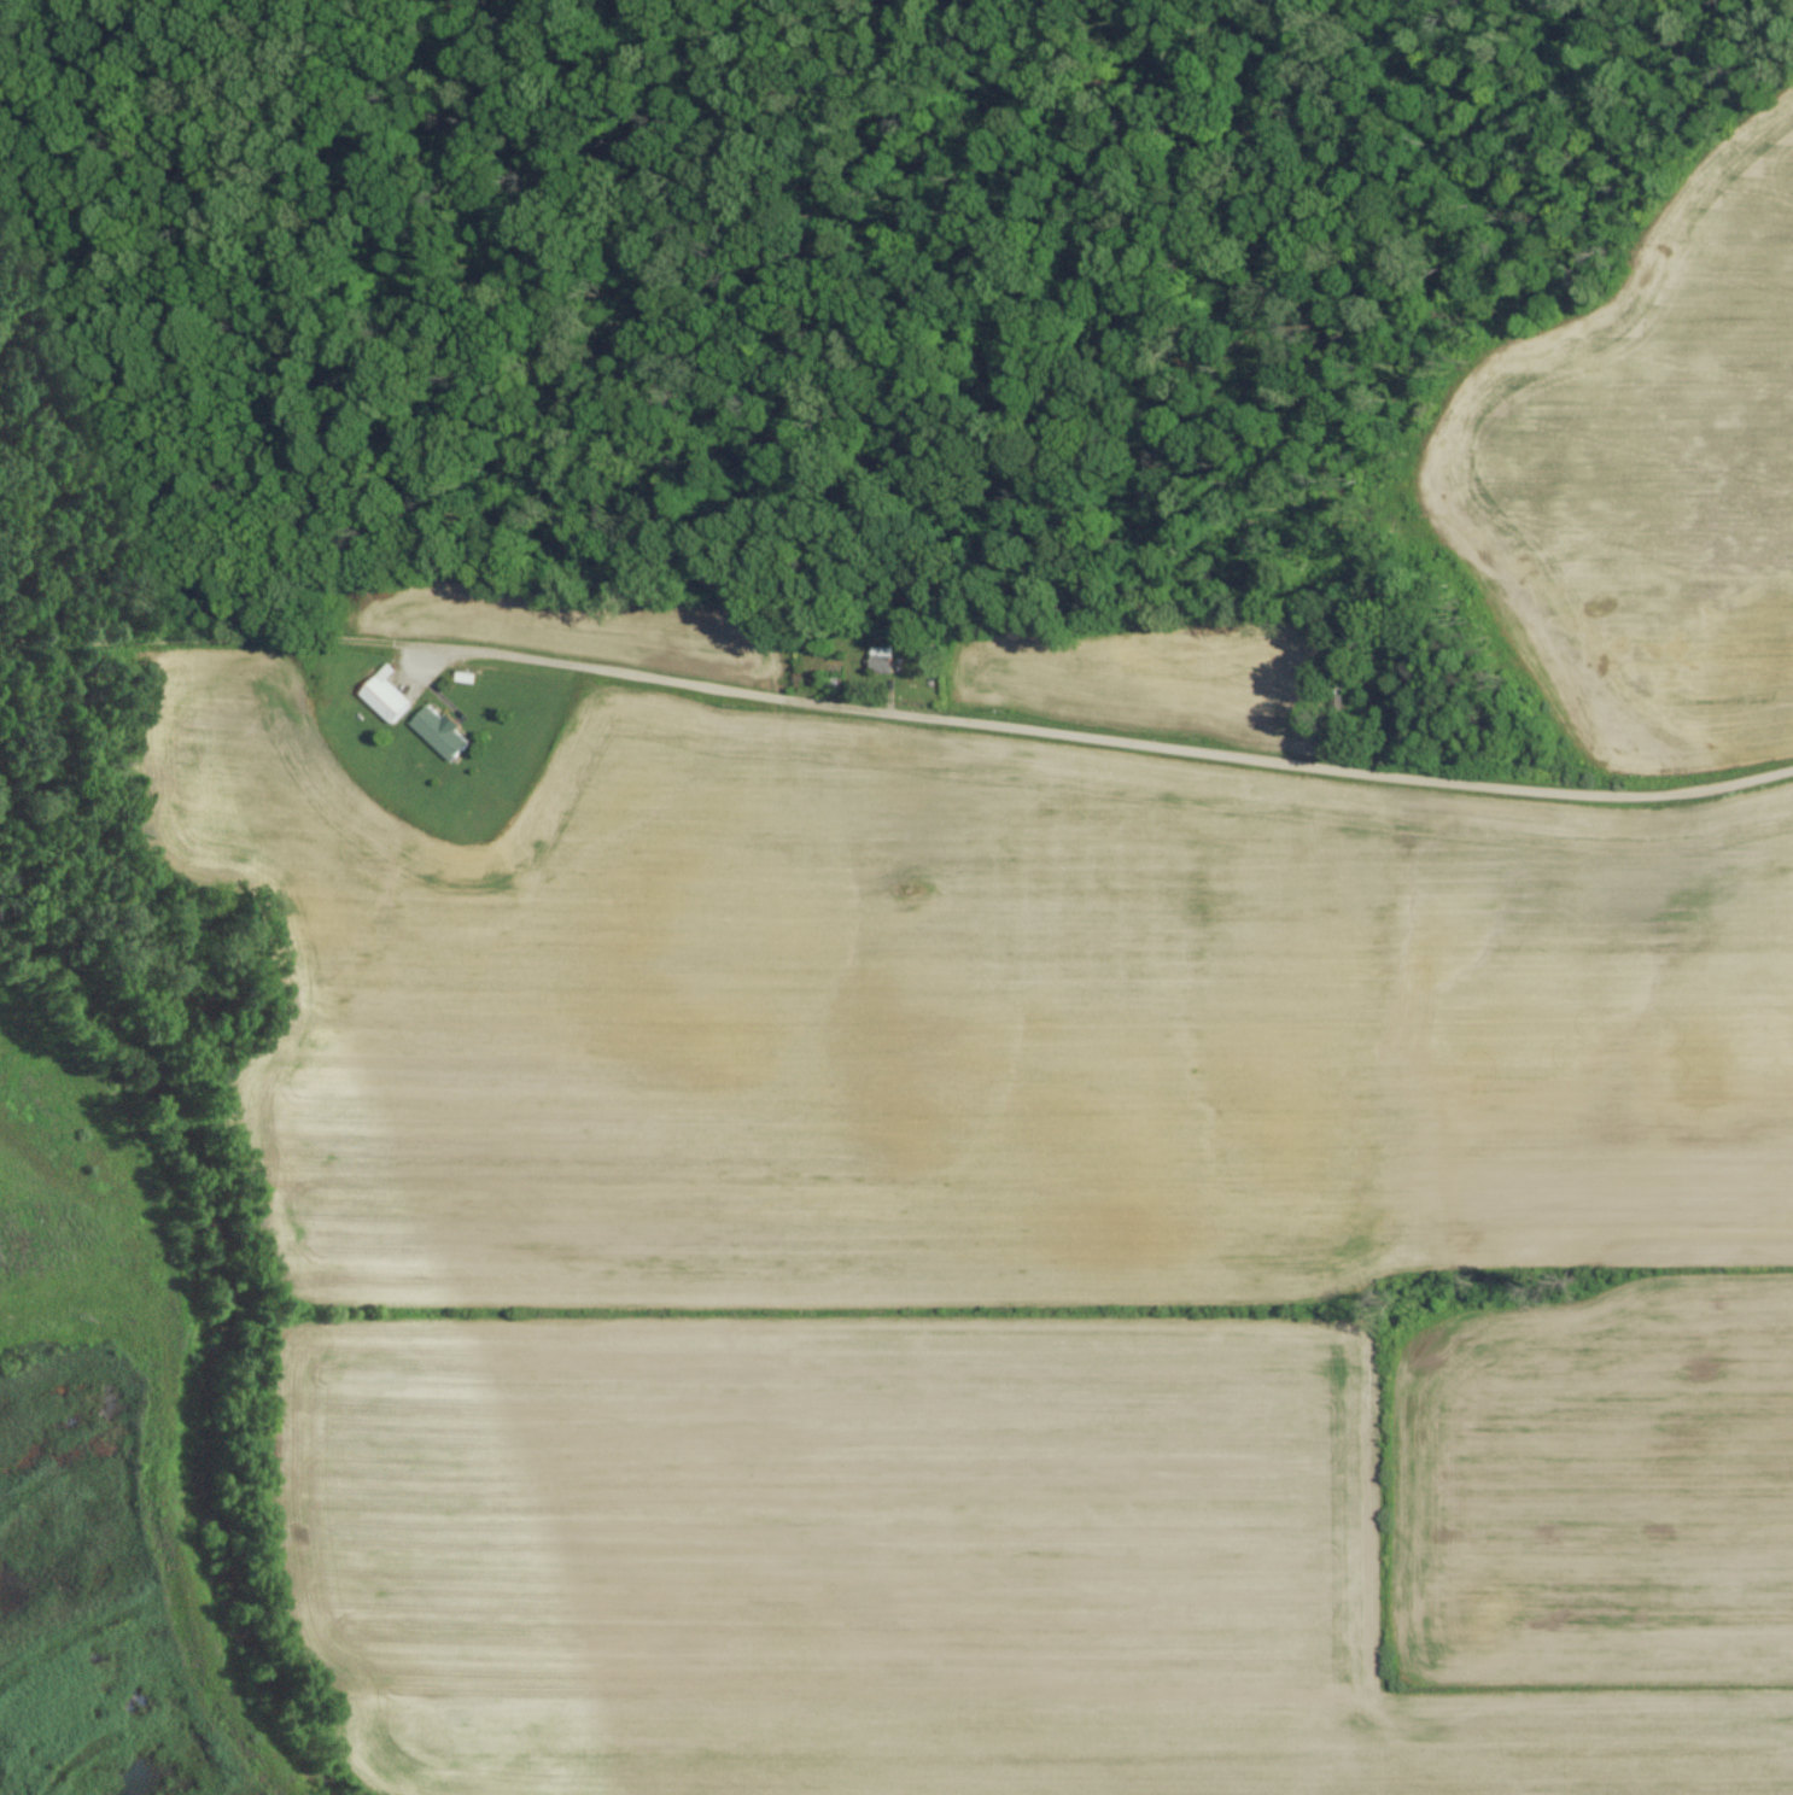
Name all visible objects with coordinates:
building: (883, 656)
building: (389, 691)
building: (443, 731)
road: (1109, 738)

